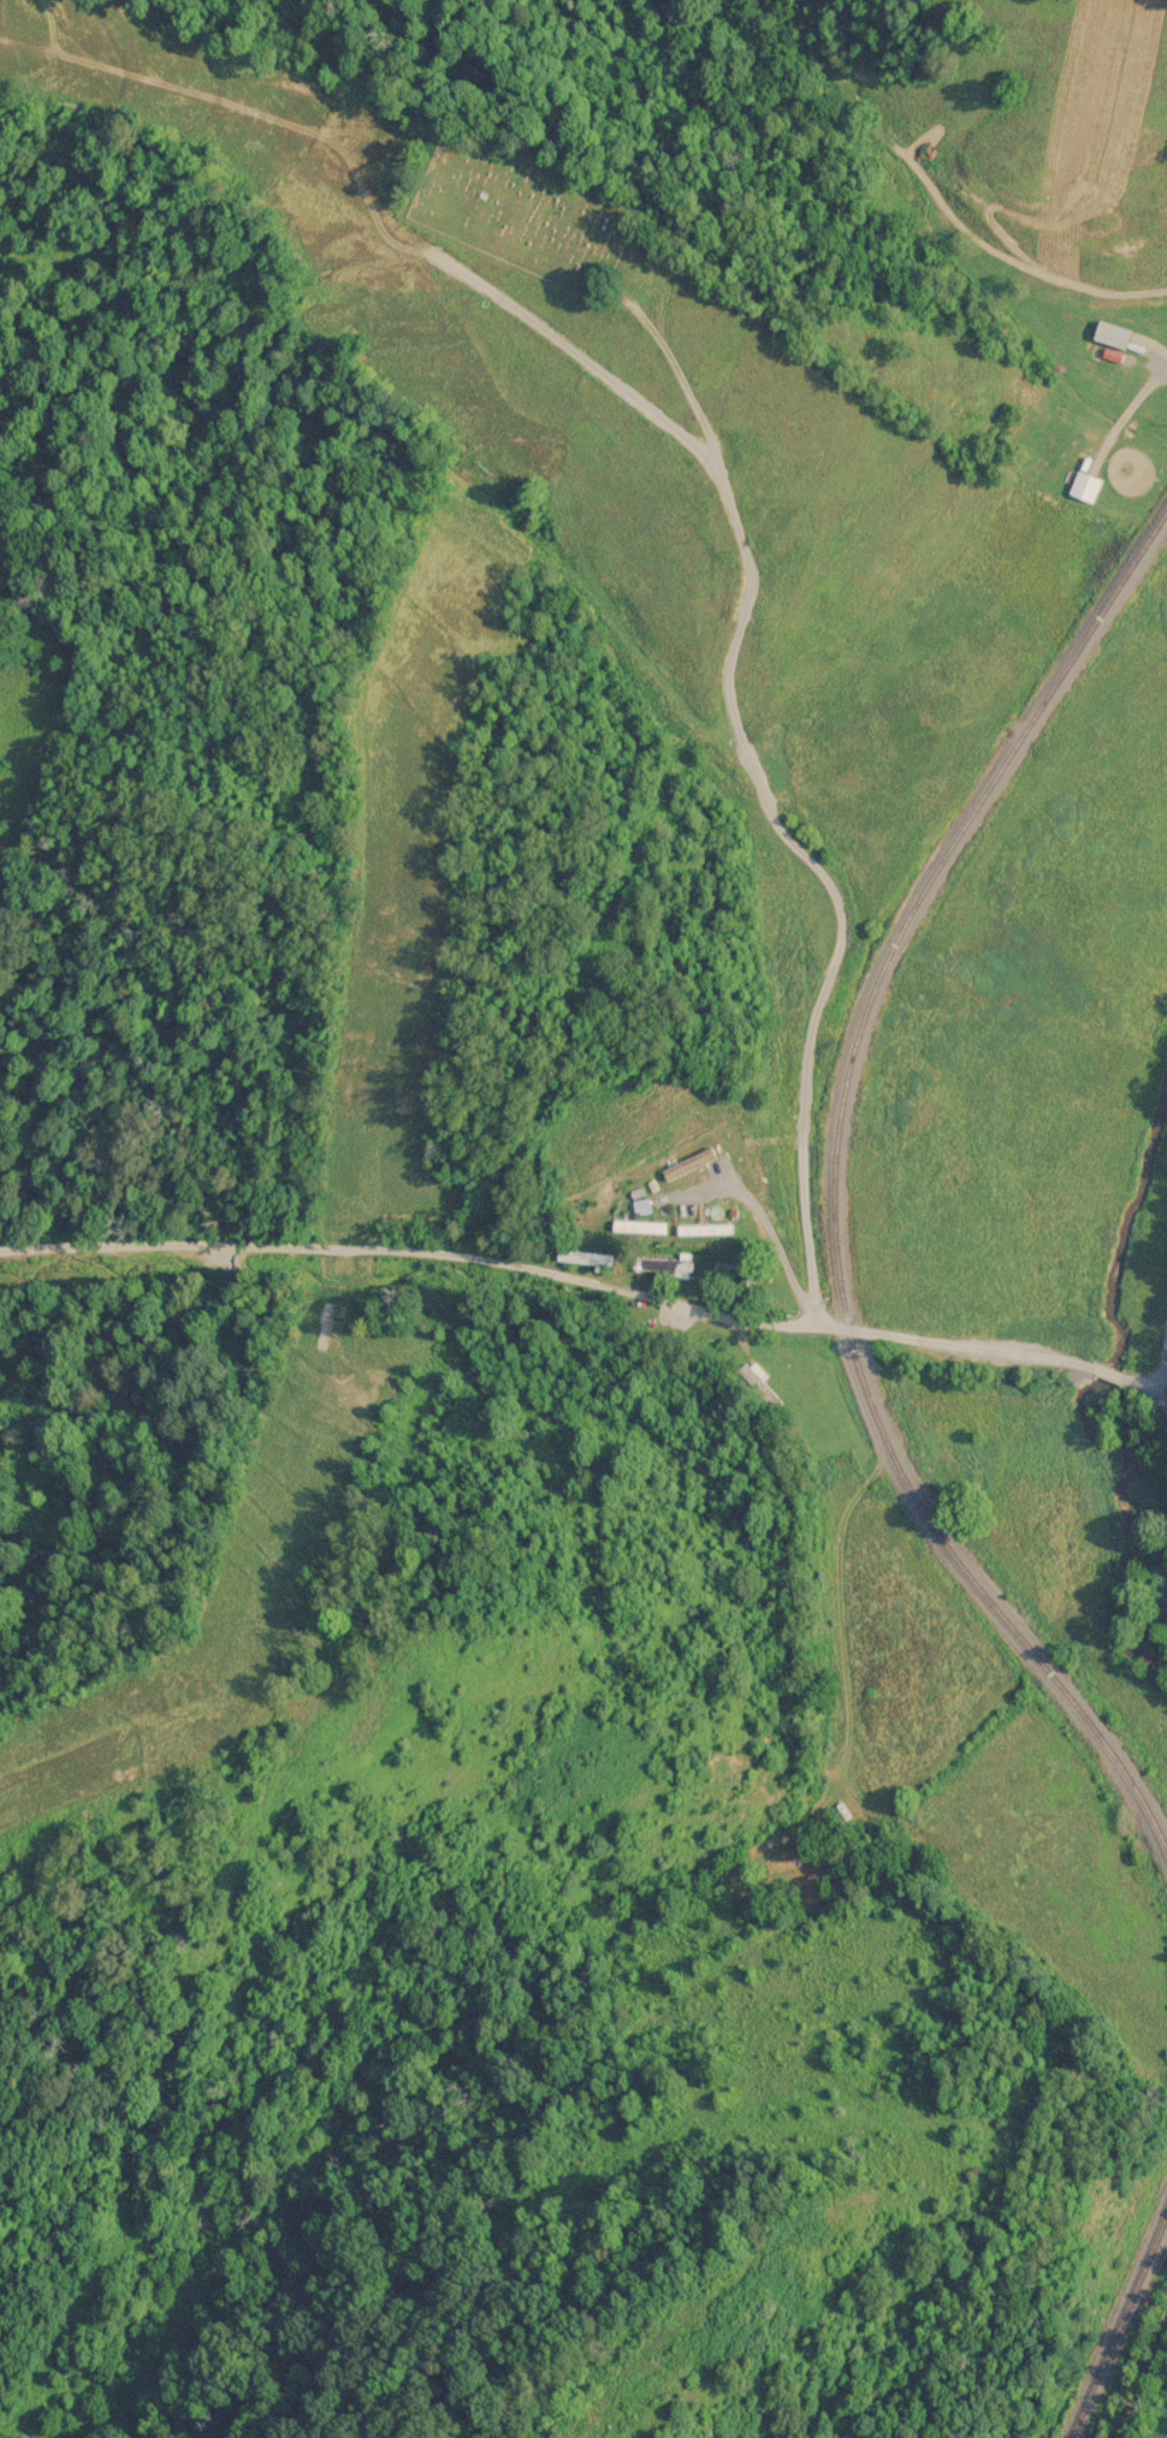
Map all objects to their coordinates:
road: (1130, 419)
building: (1083, 485)
road: (828, 975)
building: (673, 1171)
railway: (840, 1186)
river: (1142, 1199)
building: (639, 1205)
building: (636, 1226)
building: (699, 1228)
building: (668, 1263)
road: (585, 1294)
railway: (1115, 2323)

